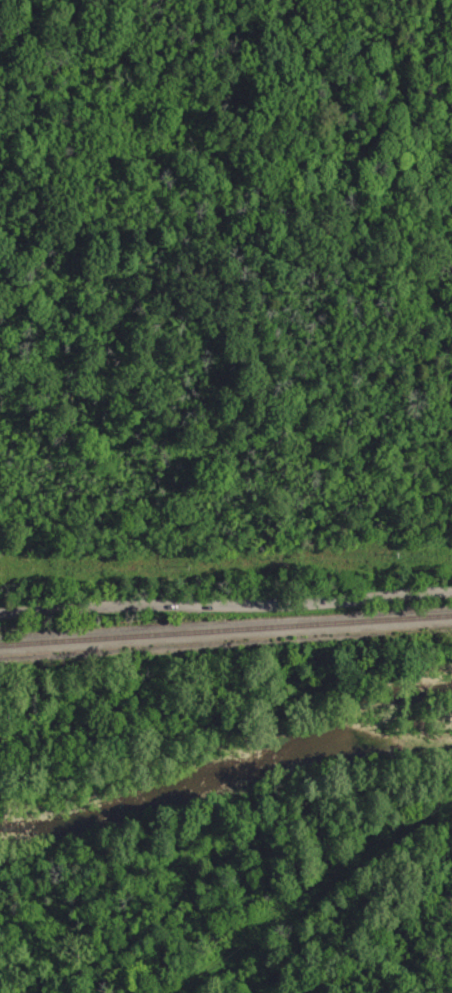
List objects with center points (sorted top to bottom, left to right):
road: (226, 623)
railway: (226, 648)

